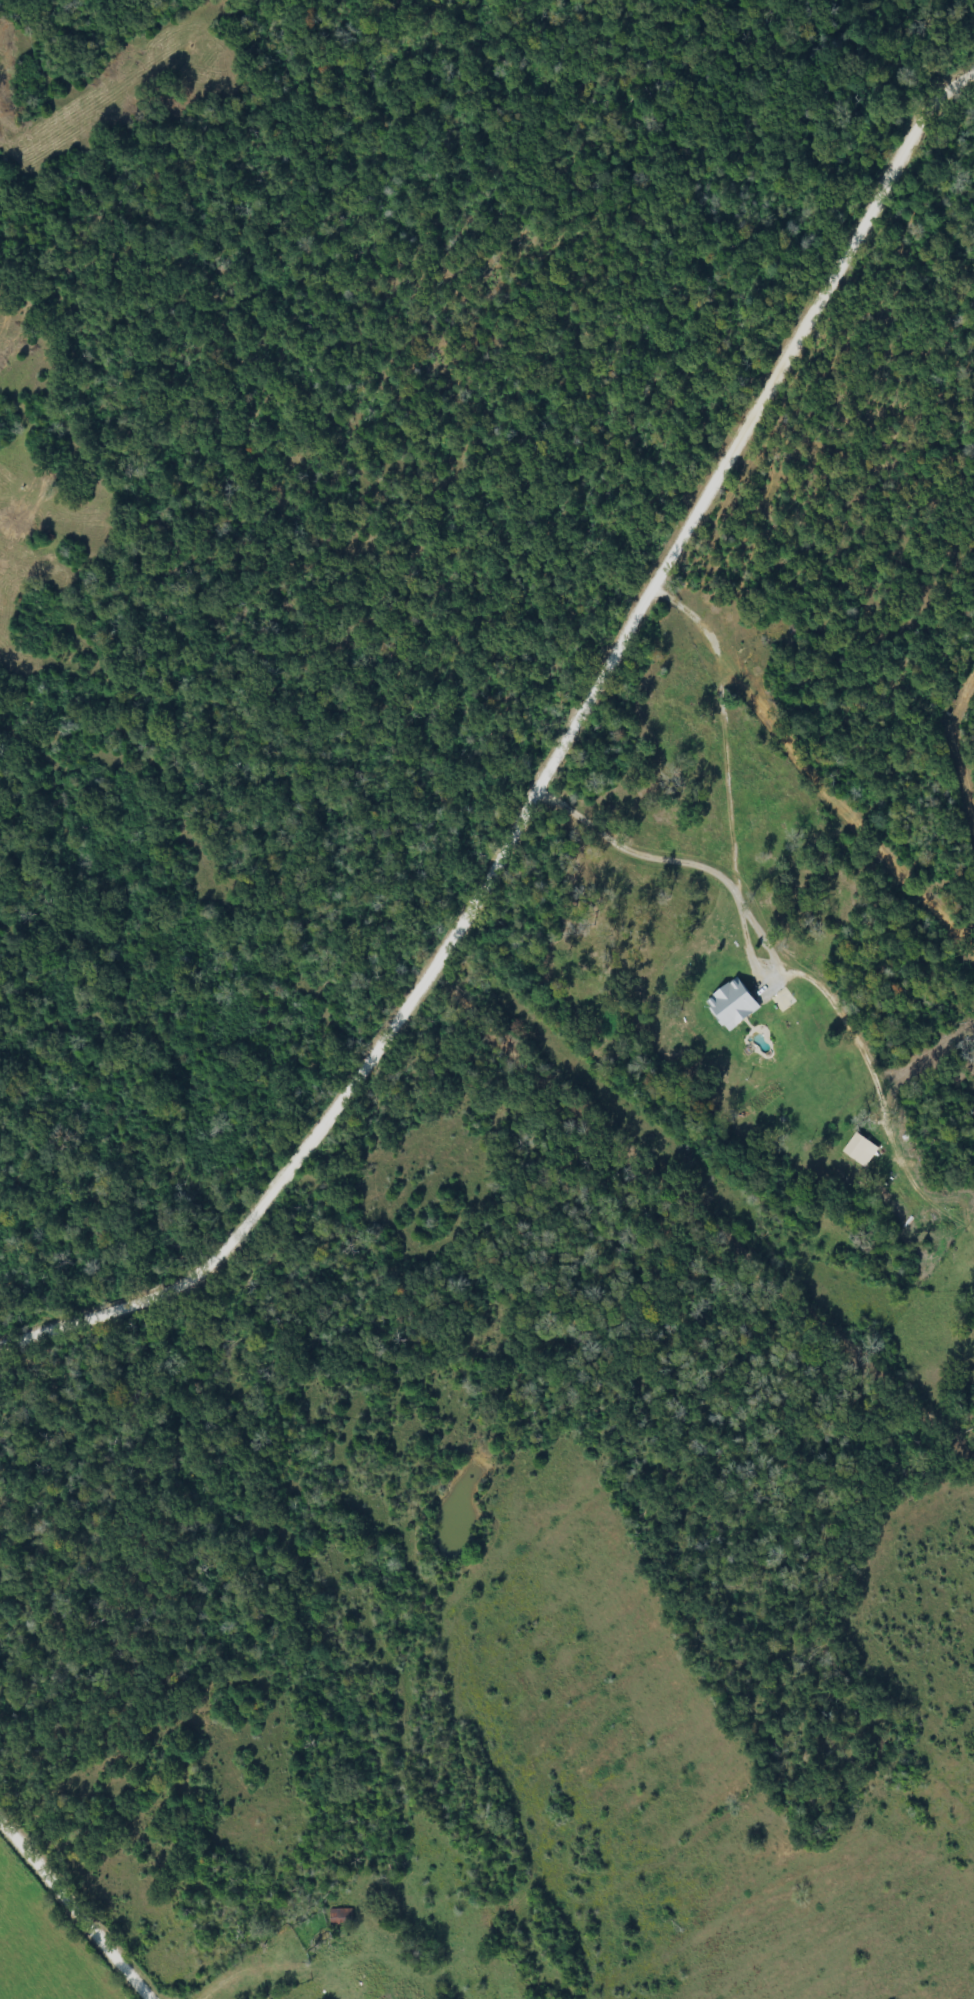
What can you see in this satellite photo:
road: (536, 777)
building: (731, 1004)
road: (65, 1908)

